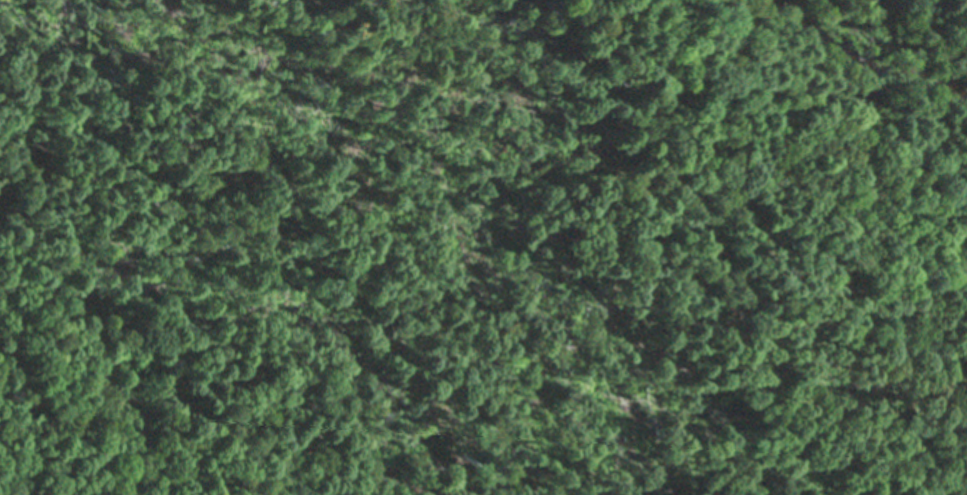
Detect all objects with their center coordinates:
river: (858, 60)

